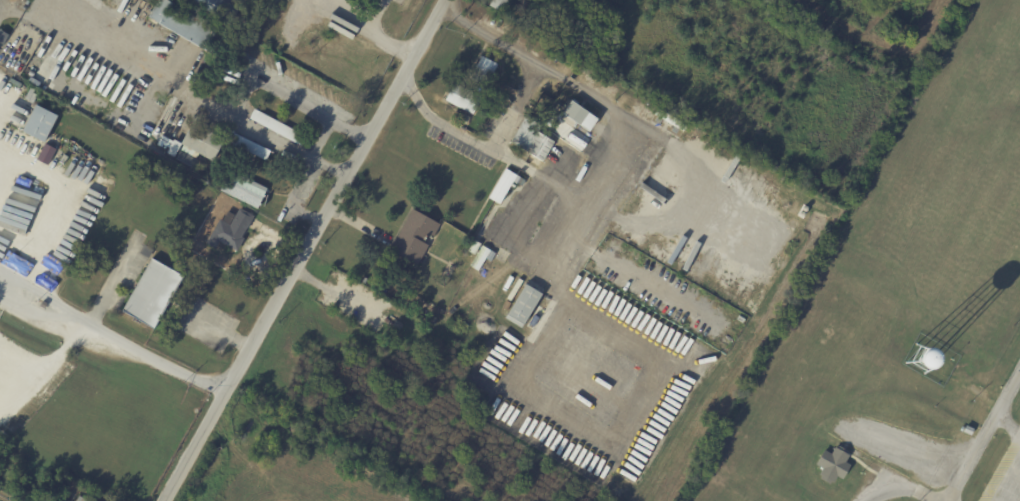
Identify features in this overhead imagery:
building: (133, 1)
building: (281, 2)
building: (150, 4)
building: (498, 5)
building: (219, 7)
building: (180, 22)
road: (377, 37)
building: (582, 37)
building: (40, 52)
road: (143, 56)
building: (483, 72)
building: (81, 74)
road: (249, 76)
building: (462, 99)
road: (516, 107)
road: (180, 110)
building: (578, 116)
building: (669, 120)
building: (40, 123)
building: (276, 128)
road: (320, 138)
building: (531, 139)
building: (163, 143)
building: (199, 143)
building: (246, 146)
road: (606, 165)
road: (328, 167)
building: (195, 174)
building: (505, 185)
building: (241, 190)
road: (289, 198)
building: (229, 231)
building: (413, 237)
building: (472, 248)
road: (304, 250)
building: (144, 251)
building: (491, 256)
building: (479, 258)
building: (364, 281)
building: (371, 285)
road: (103, 295)
building: (150, 296)
building: (42, 304)
building: (522, 305)
road: (110, 343)
water tower: (927, 368)
road: (1010, 425)
road: (987, 442)
building: (832, 464)
road: (1016, 469)
road: (900, 486)
building: (79, 499)

